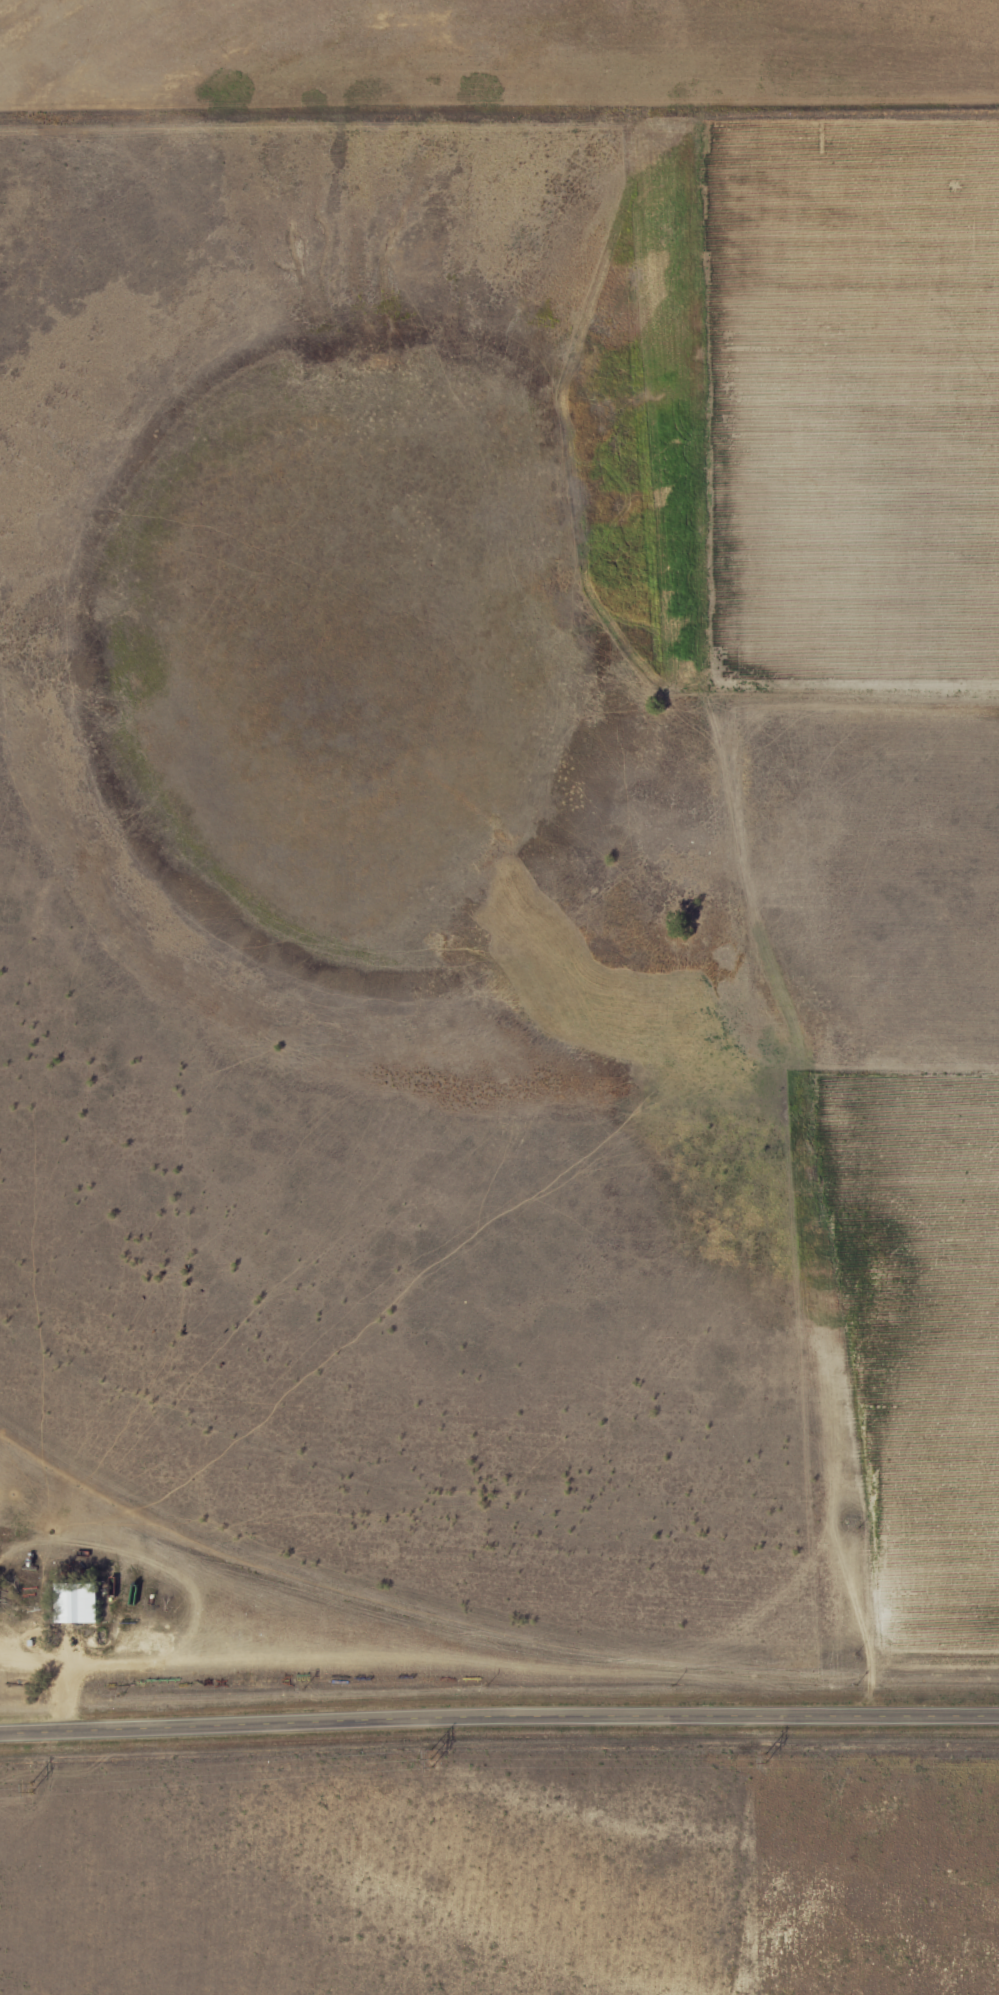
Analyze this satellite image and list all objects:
building: (74, 1603)
road: (499, 1716)
power tower: (769, 1760)
power tower: (432, 1763)
power tower: (32, 1789)

